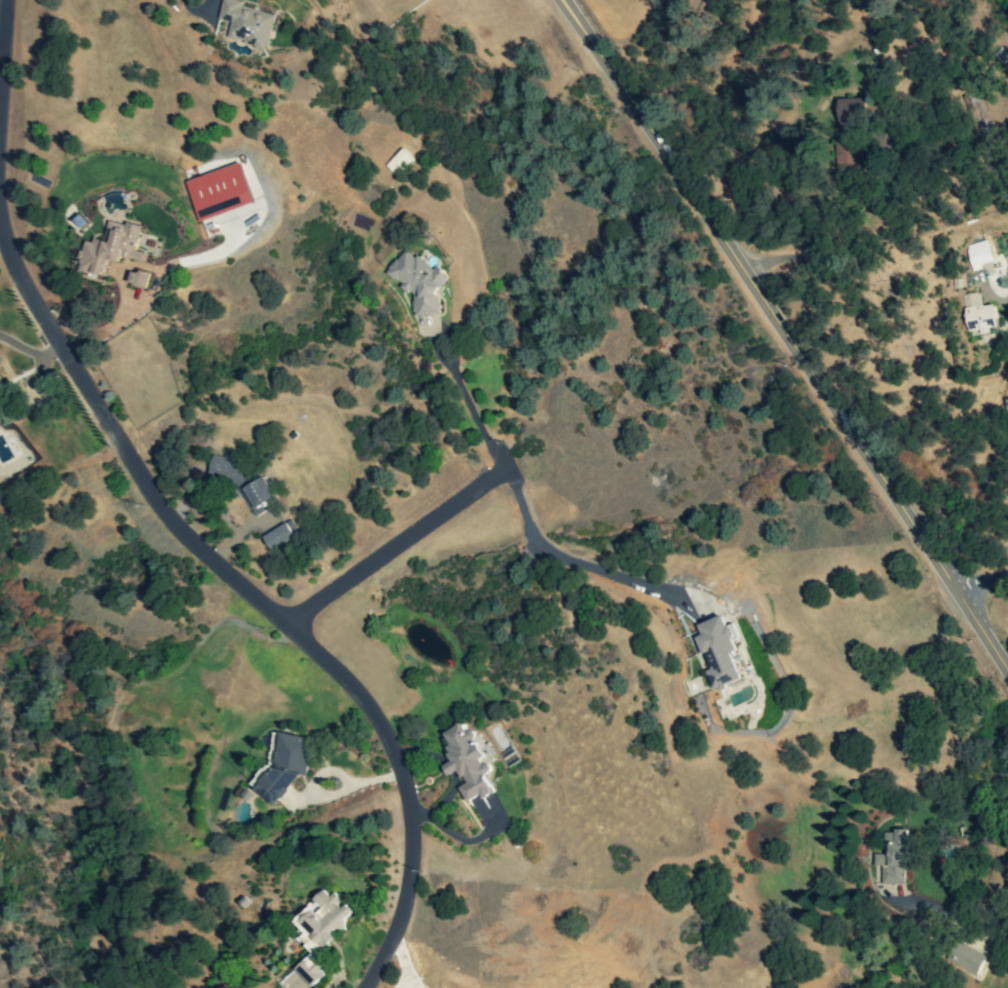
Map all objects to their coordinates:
building: (246, 23)
road: (2, 64)
building: (976, 114)
building: (848, 136)
building: (398, 161)
building: (220, 191)
building: (110, 247)
building: (983, 256)
building: (141, 279)
building: (418, 282)
road: (1004, 309)
building: (978, 313)
road: (789, 334)
road: (31, 352)
building: (0, 385)
road: (466, 405)
building: (226, 470)
building: (280, 535)
road: (396, 546)
road: (570, 563)
road: (981, 581)
road: (259, 606)
building: (718, 652)
building: (467, 761)
building: (283, 765)
building: (892, 858)
road: (953, 914)
building: (319, 931)
building: (965, 957)

